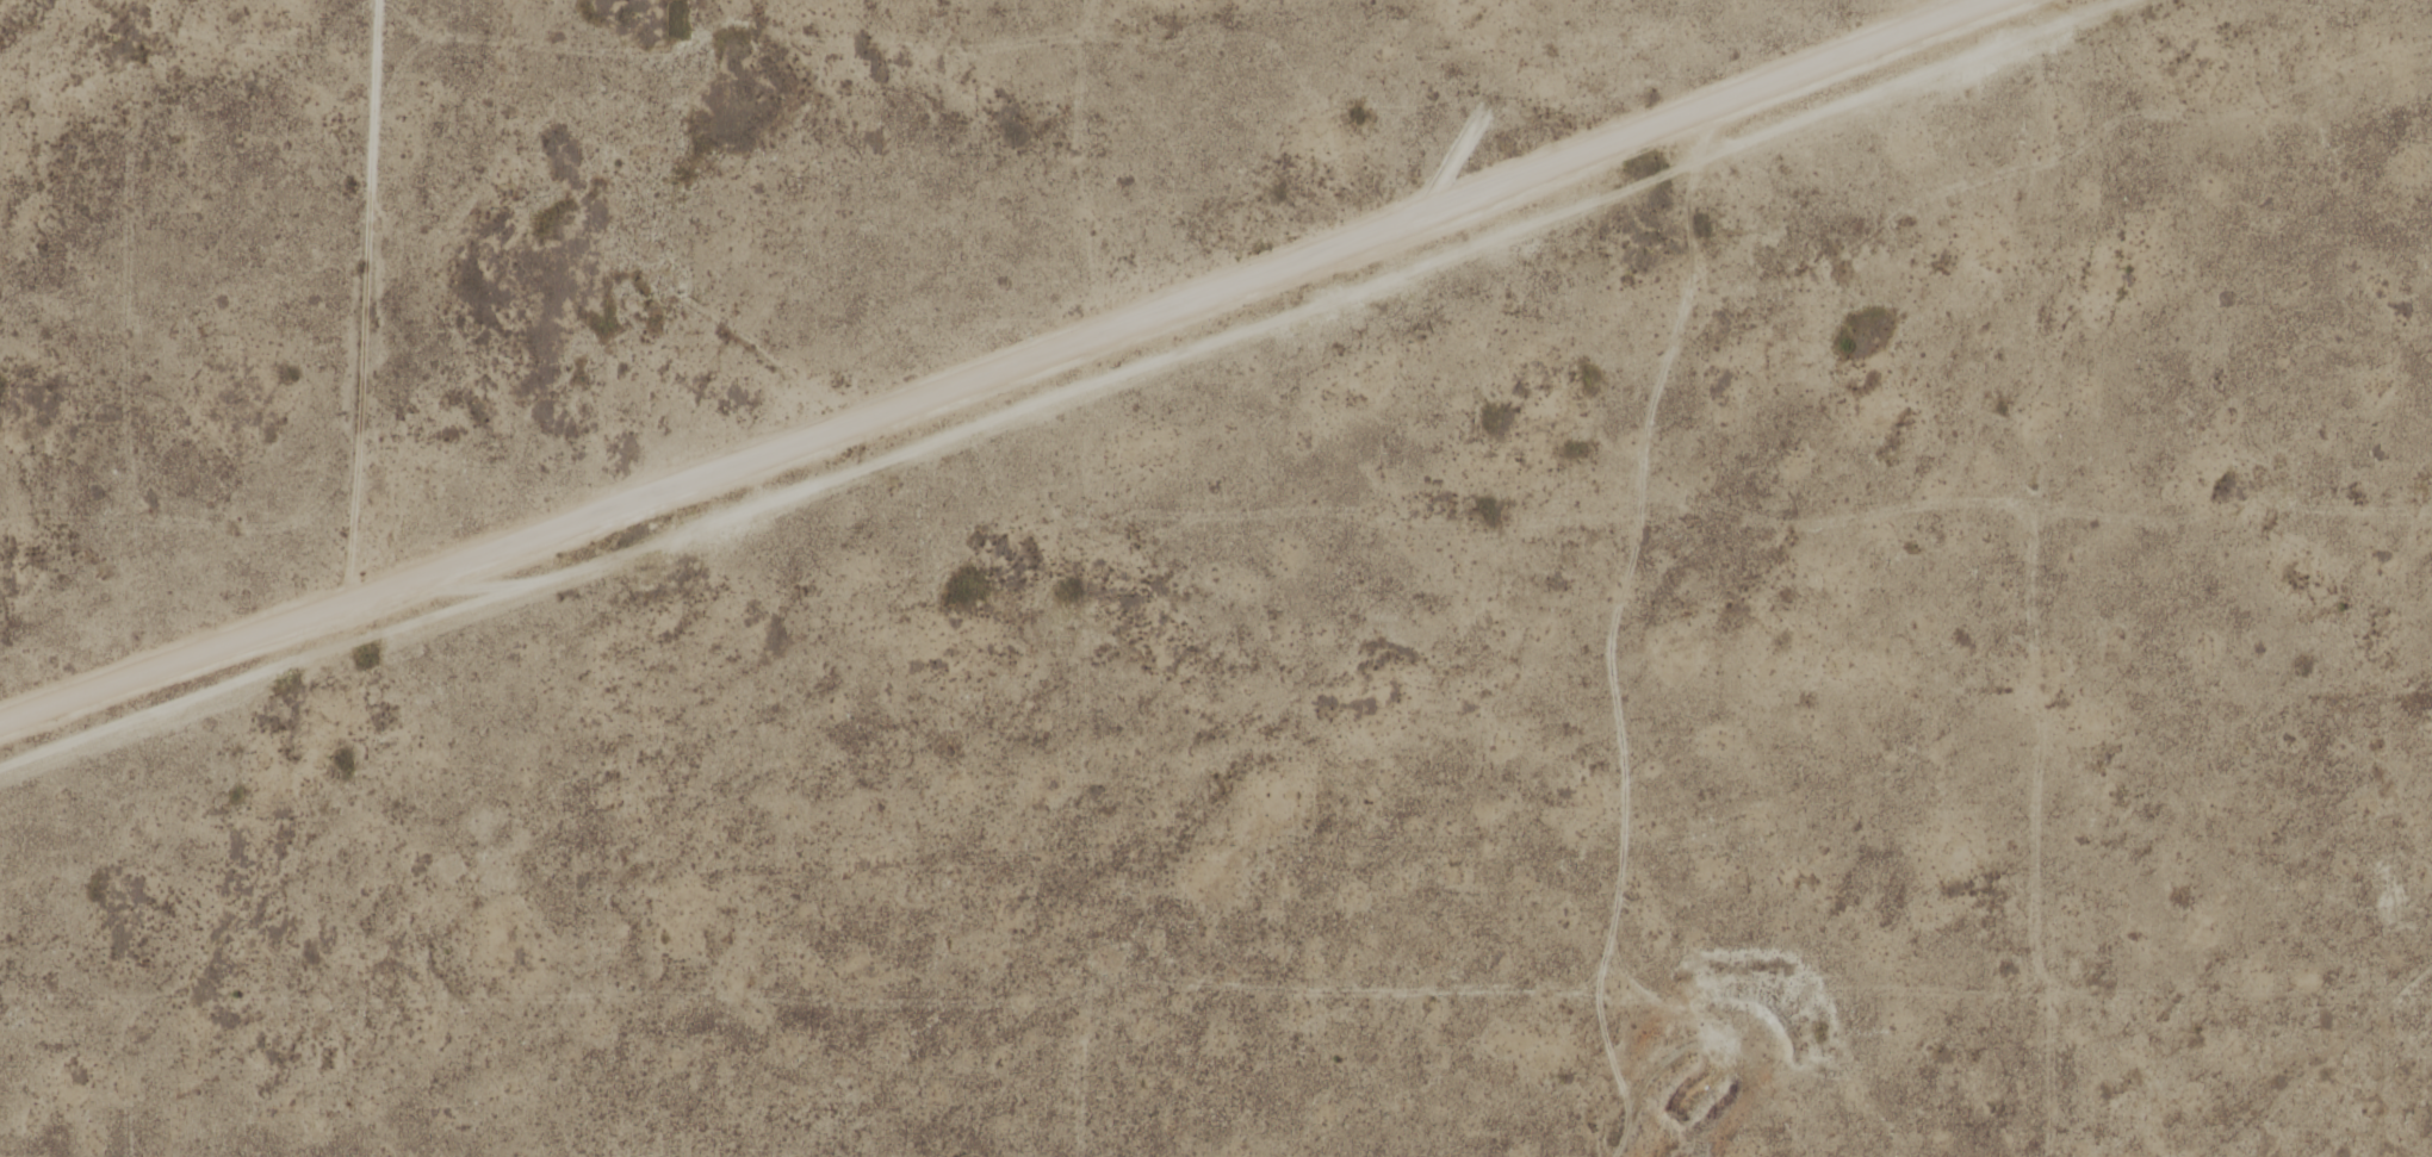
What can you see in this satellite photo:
road: (974, 365)

